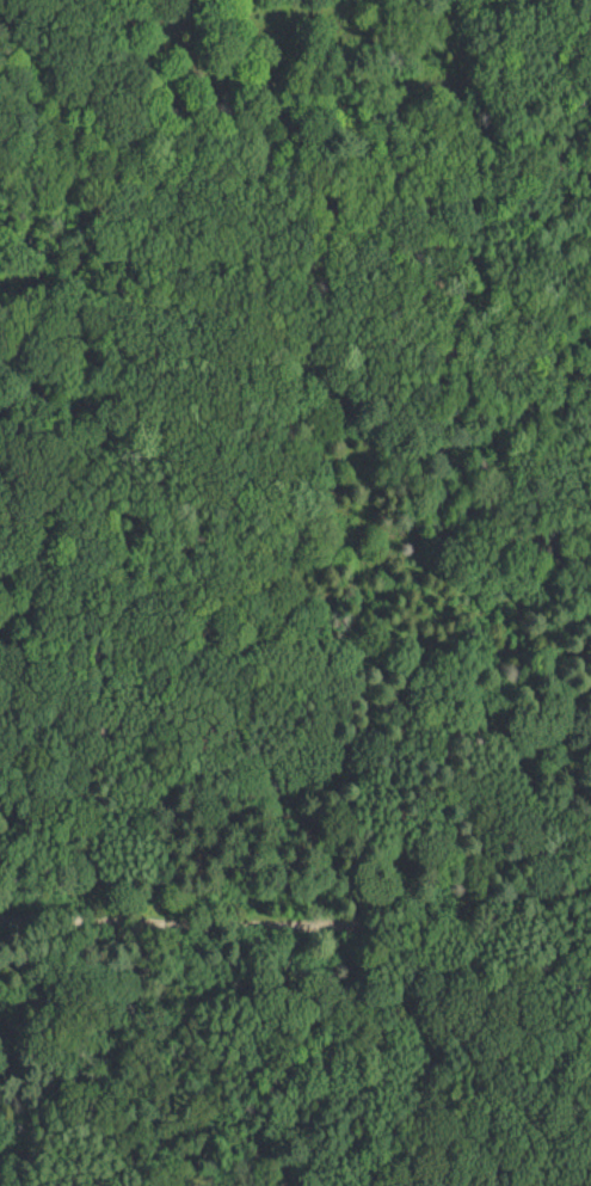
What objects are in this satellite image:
road: (44, 129)
road: (295, 923)
road: (506, 1173)
road: (2, 1185)

